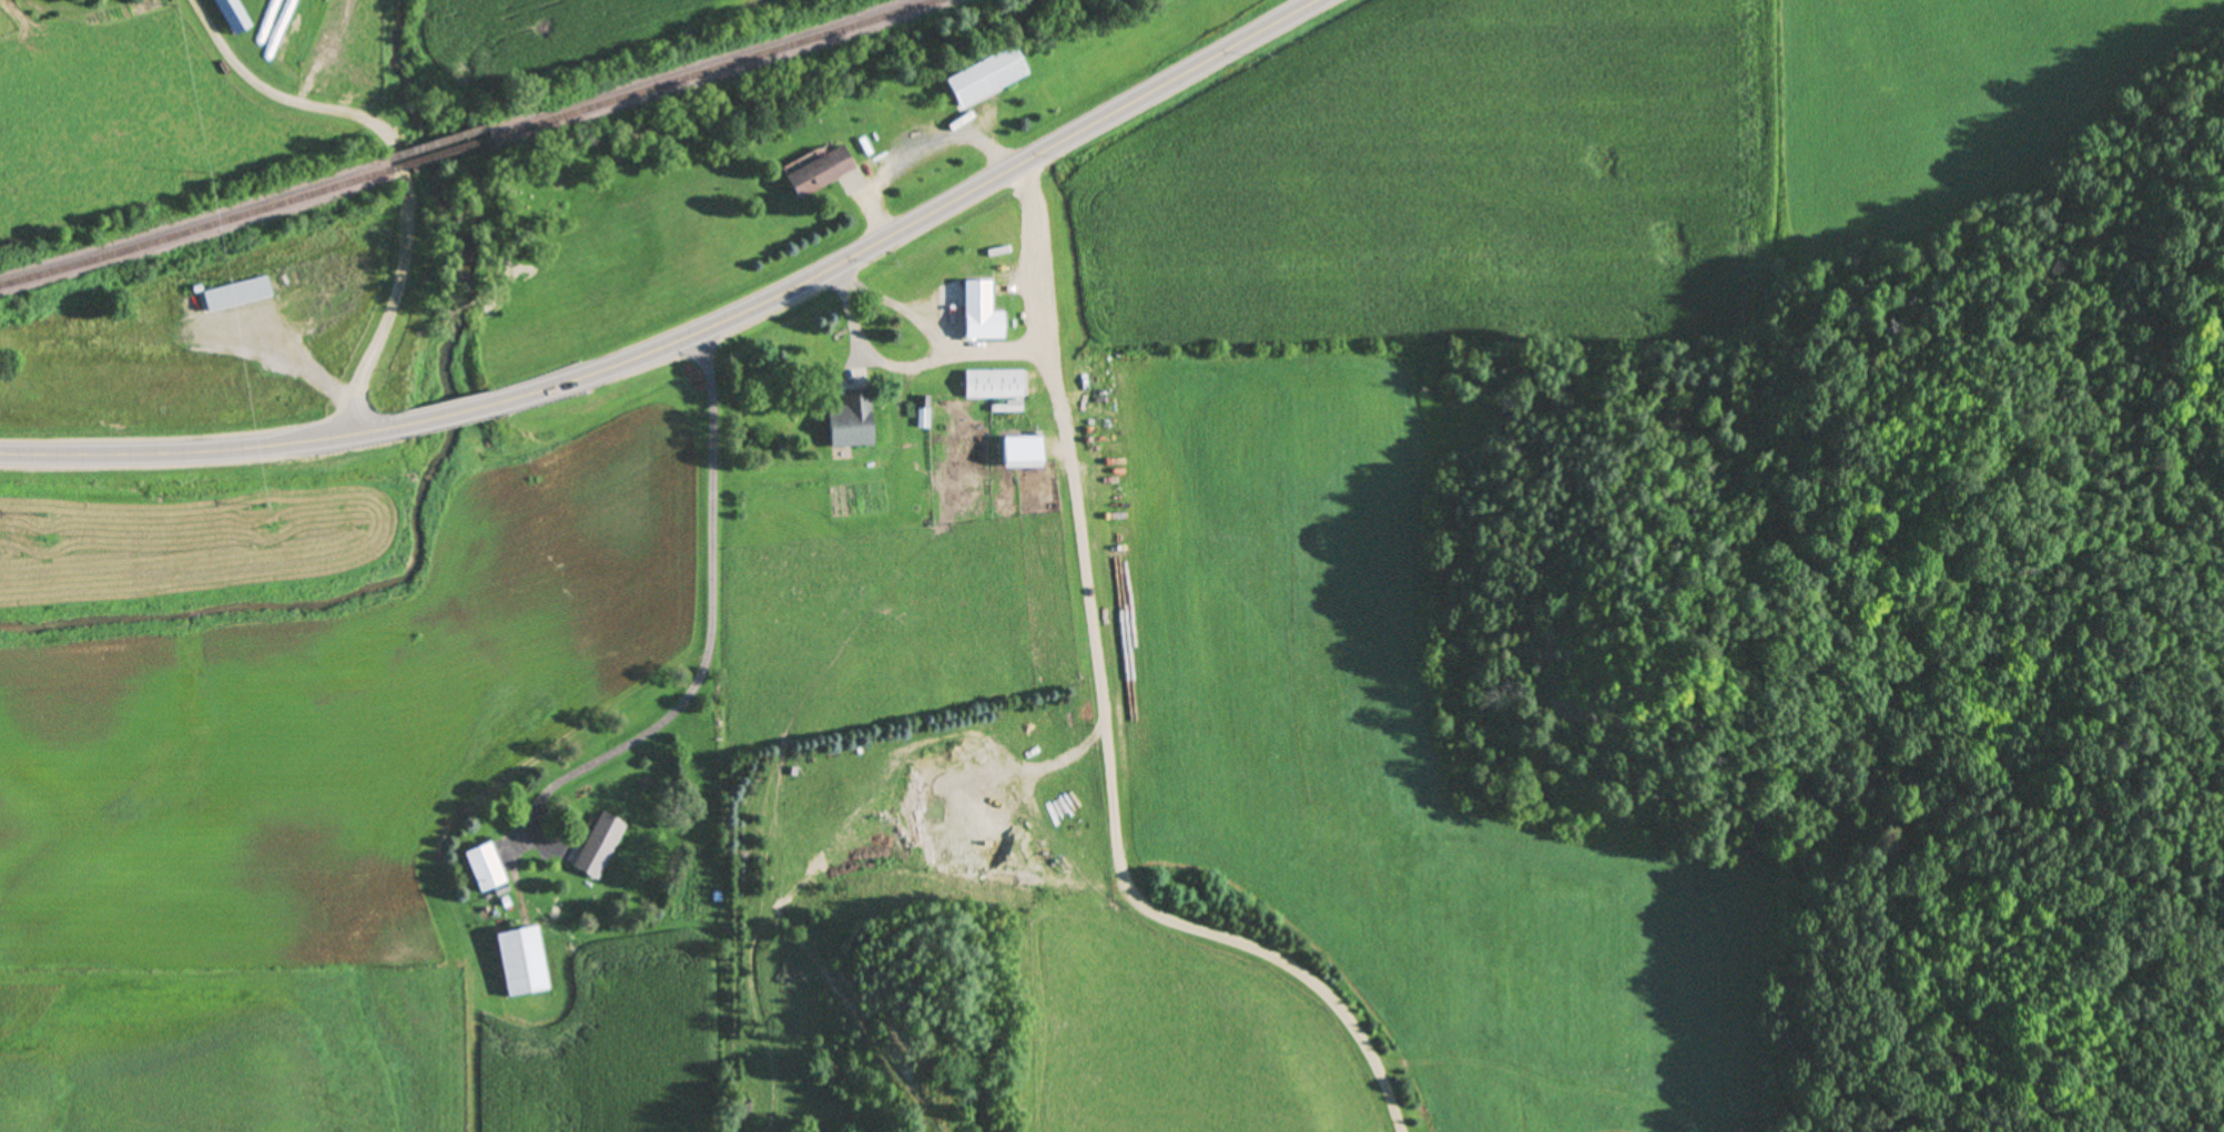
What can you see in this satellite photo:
building: (231, 14)
building: (295, 28)
railway: (713, 69)
road: (244, 70)
building: (988, 74)
railway: (439, 154)
building: (820, 172)
road: (913, 225)
railway: (194, 231)
road: (403, 246)
building: (235, 293)
building: (984, 324)
road: (938, 329)
road: (879, 354)
building: (996, 383)
building: (924, 412)
road: (448, 416)
building: (851, 418)
road: (204, 451)
road: (715, 640)
road: (1106, 716)
building: (600, 846)
building: (486, 867)
building: (522, 962)

